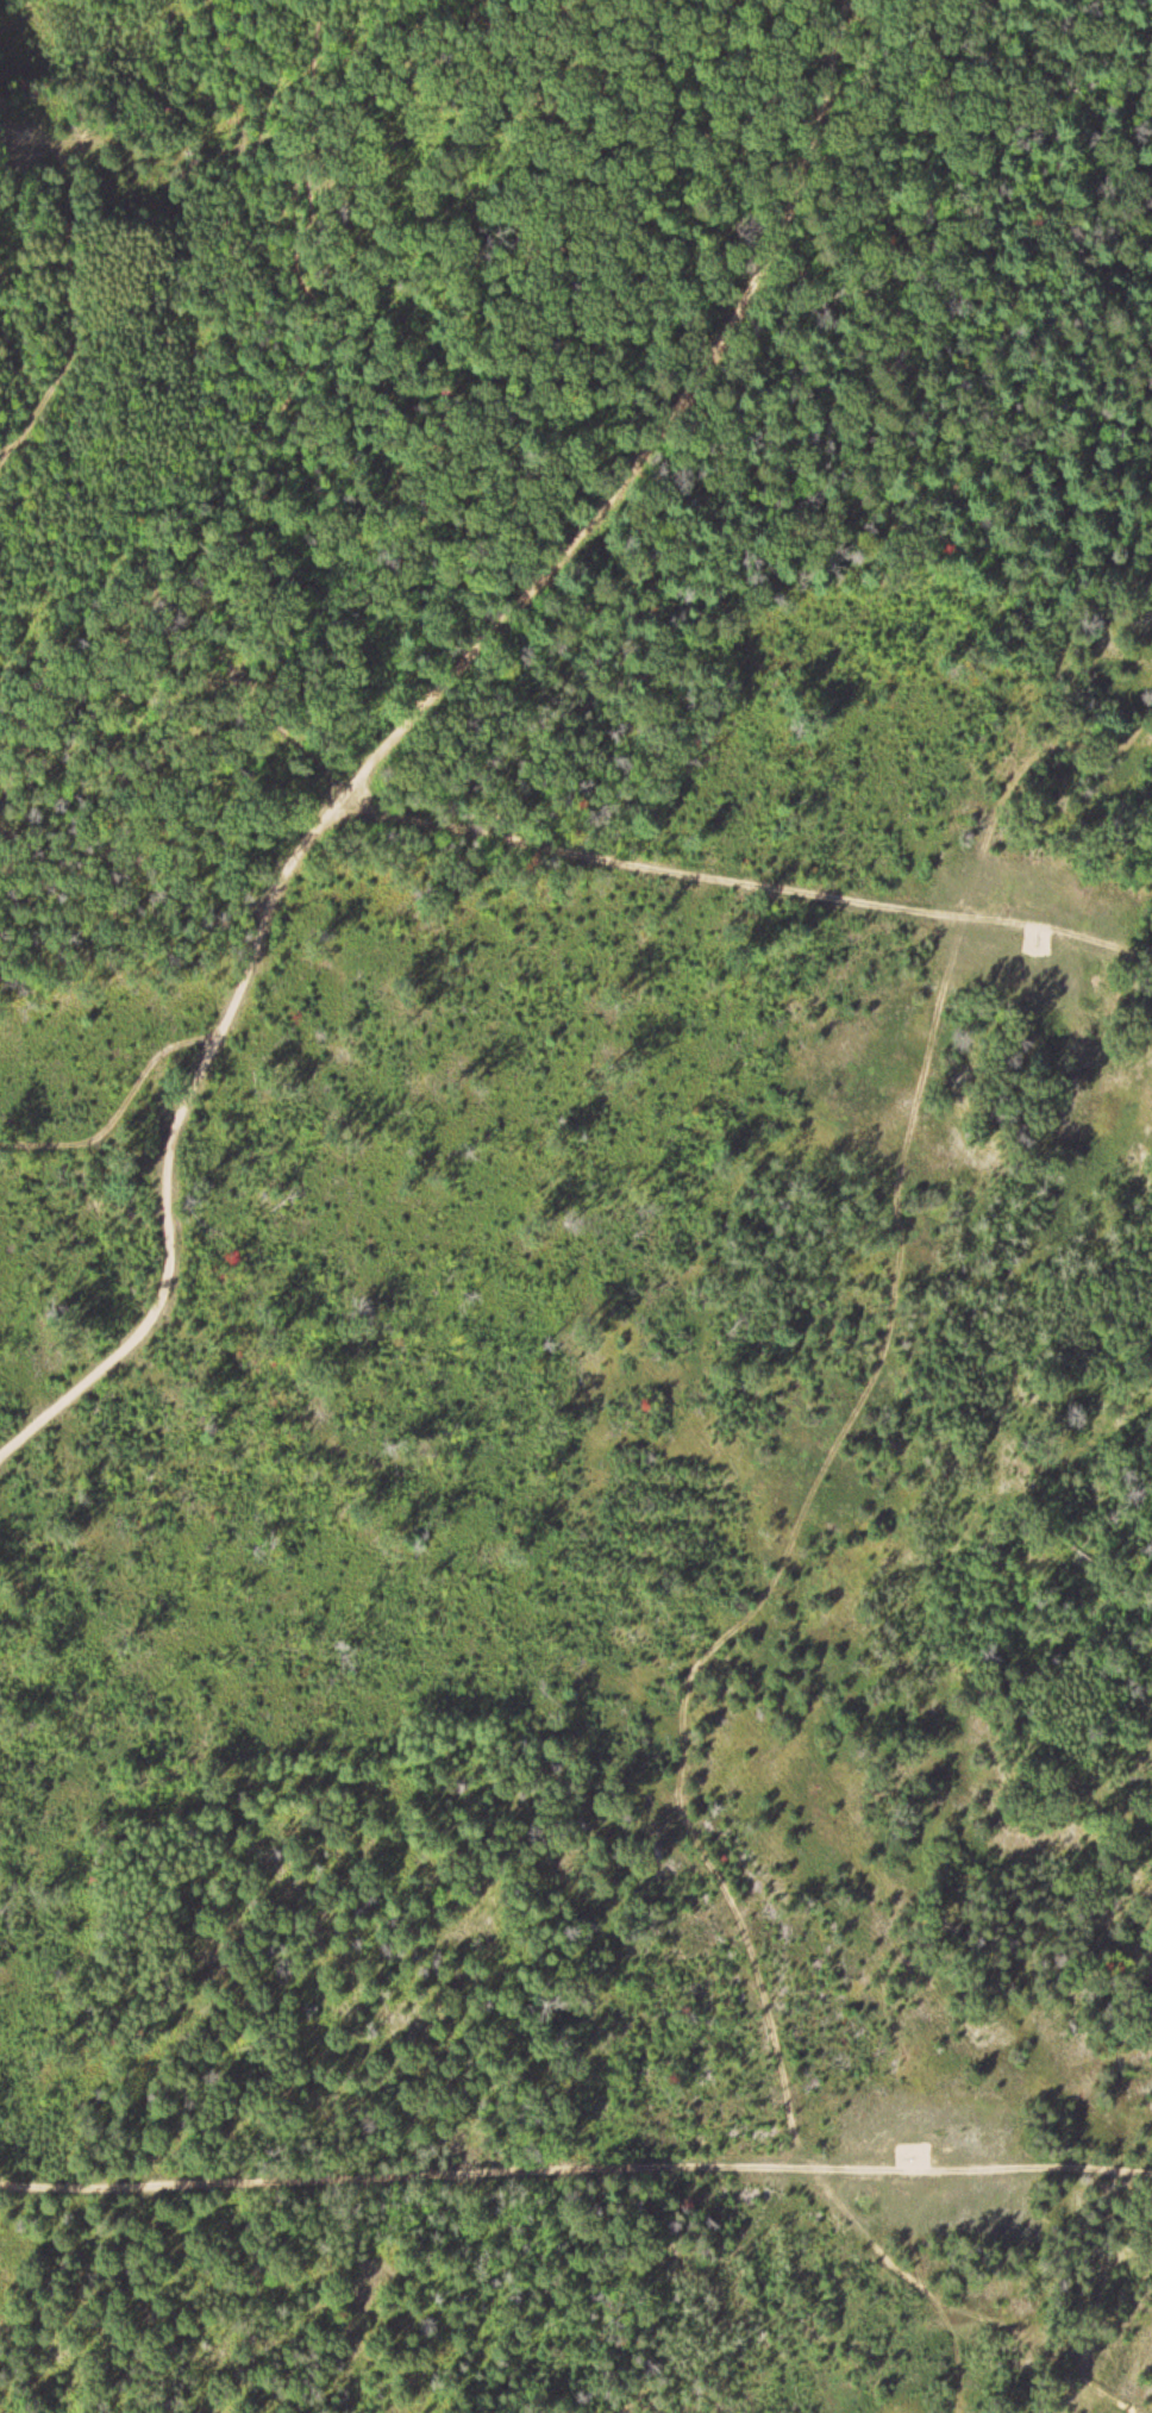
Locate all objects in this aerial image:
road: (276, 386)
road: (409, 727)
road: (744, 884)
road: (577, 2176)
road: (960, 2305)

